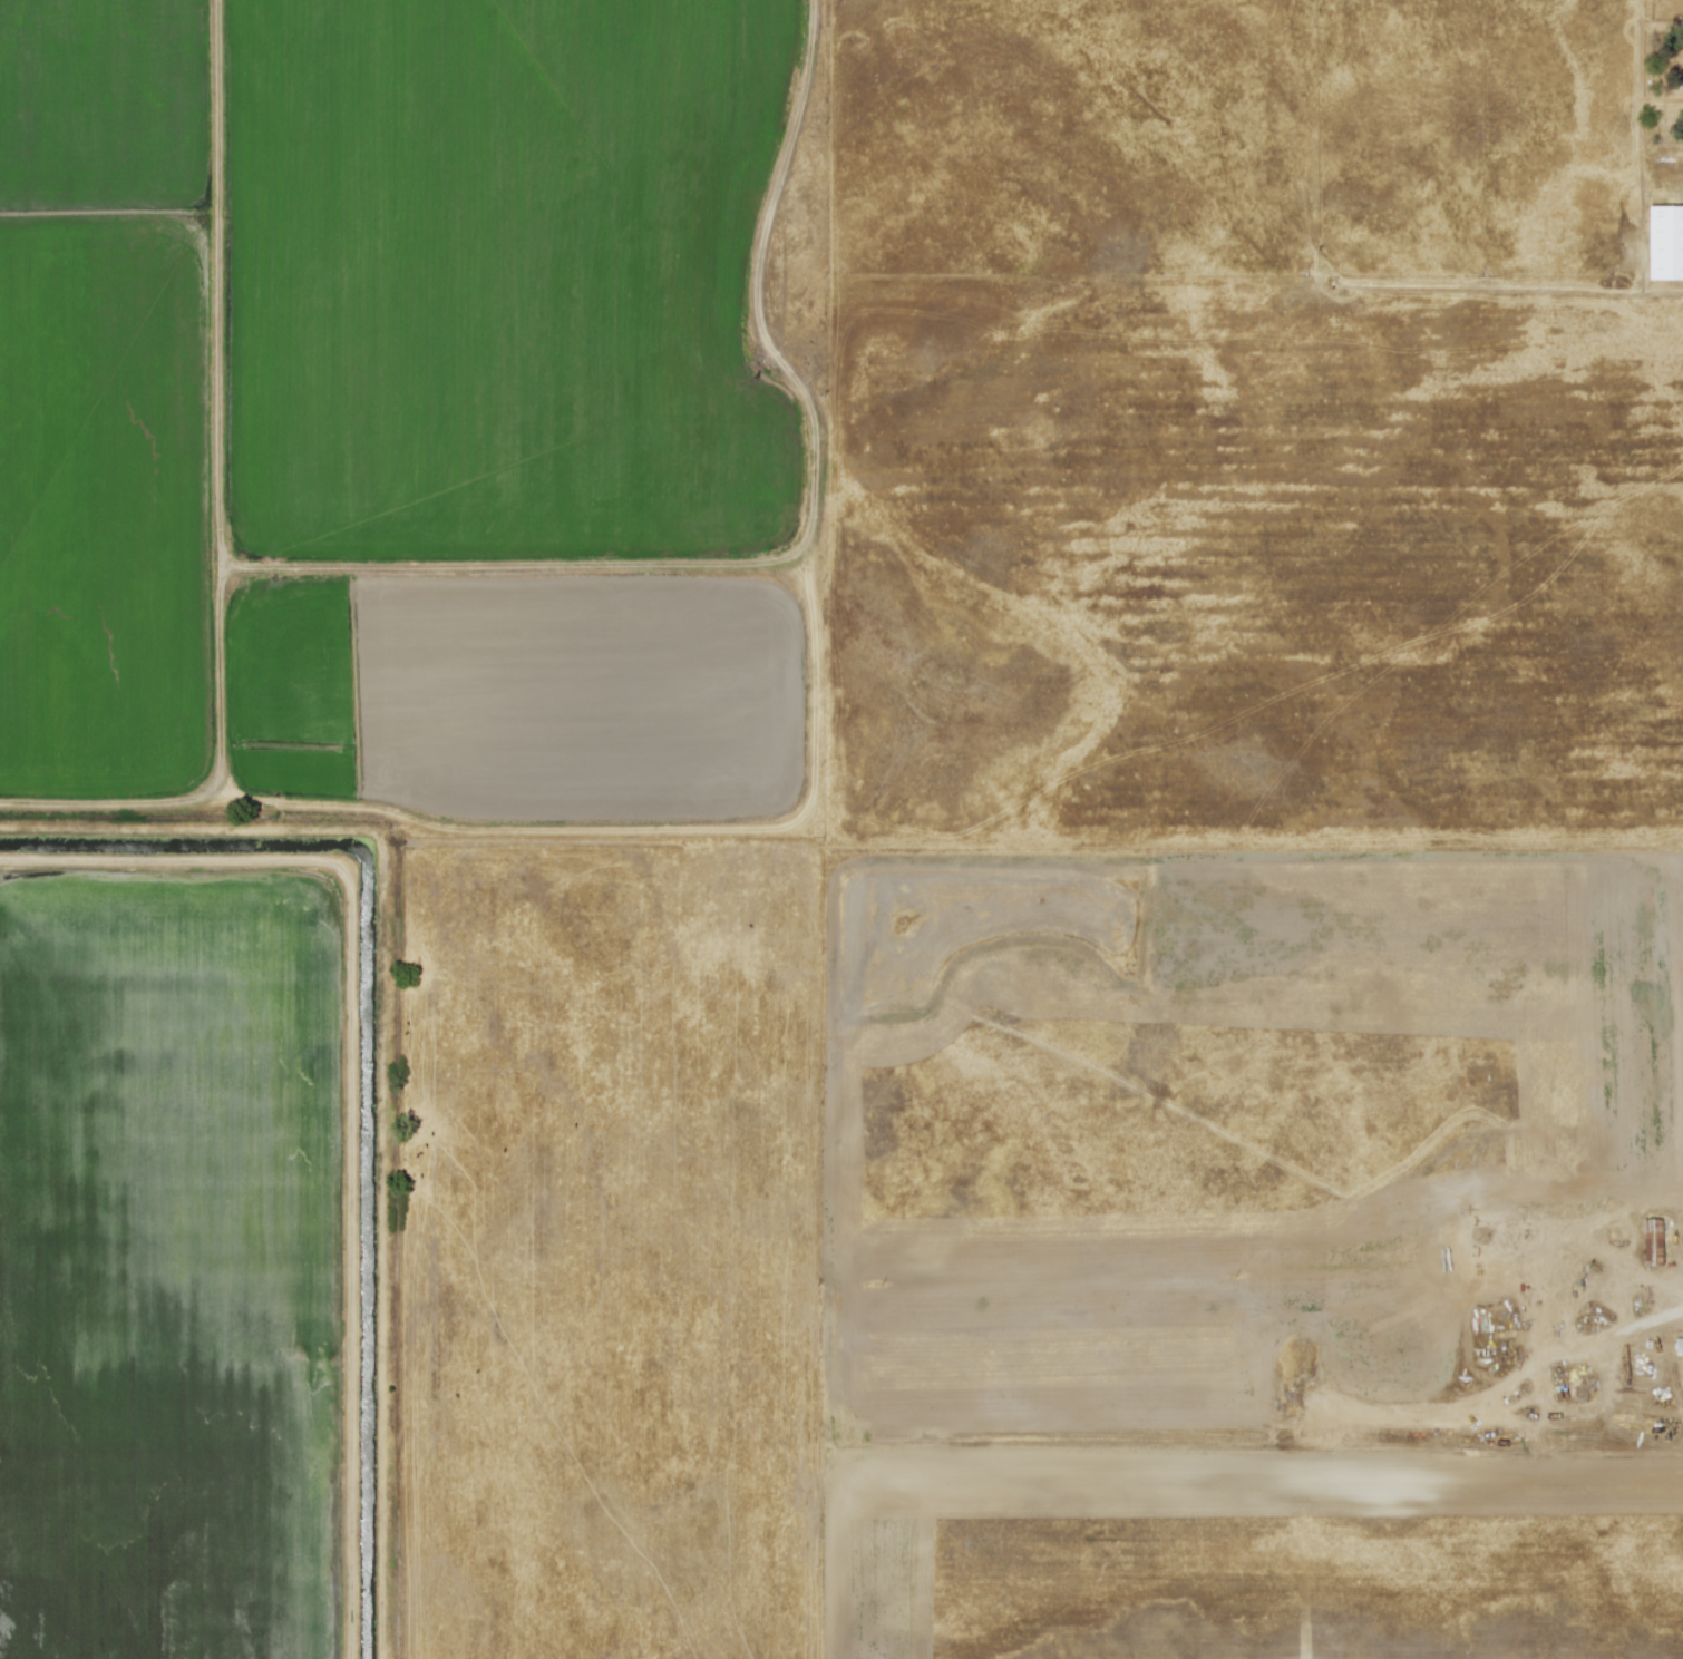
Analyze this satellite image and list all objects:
building: (1665, 243)
road: (1574, 1344)
road: (1582, 1436)

